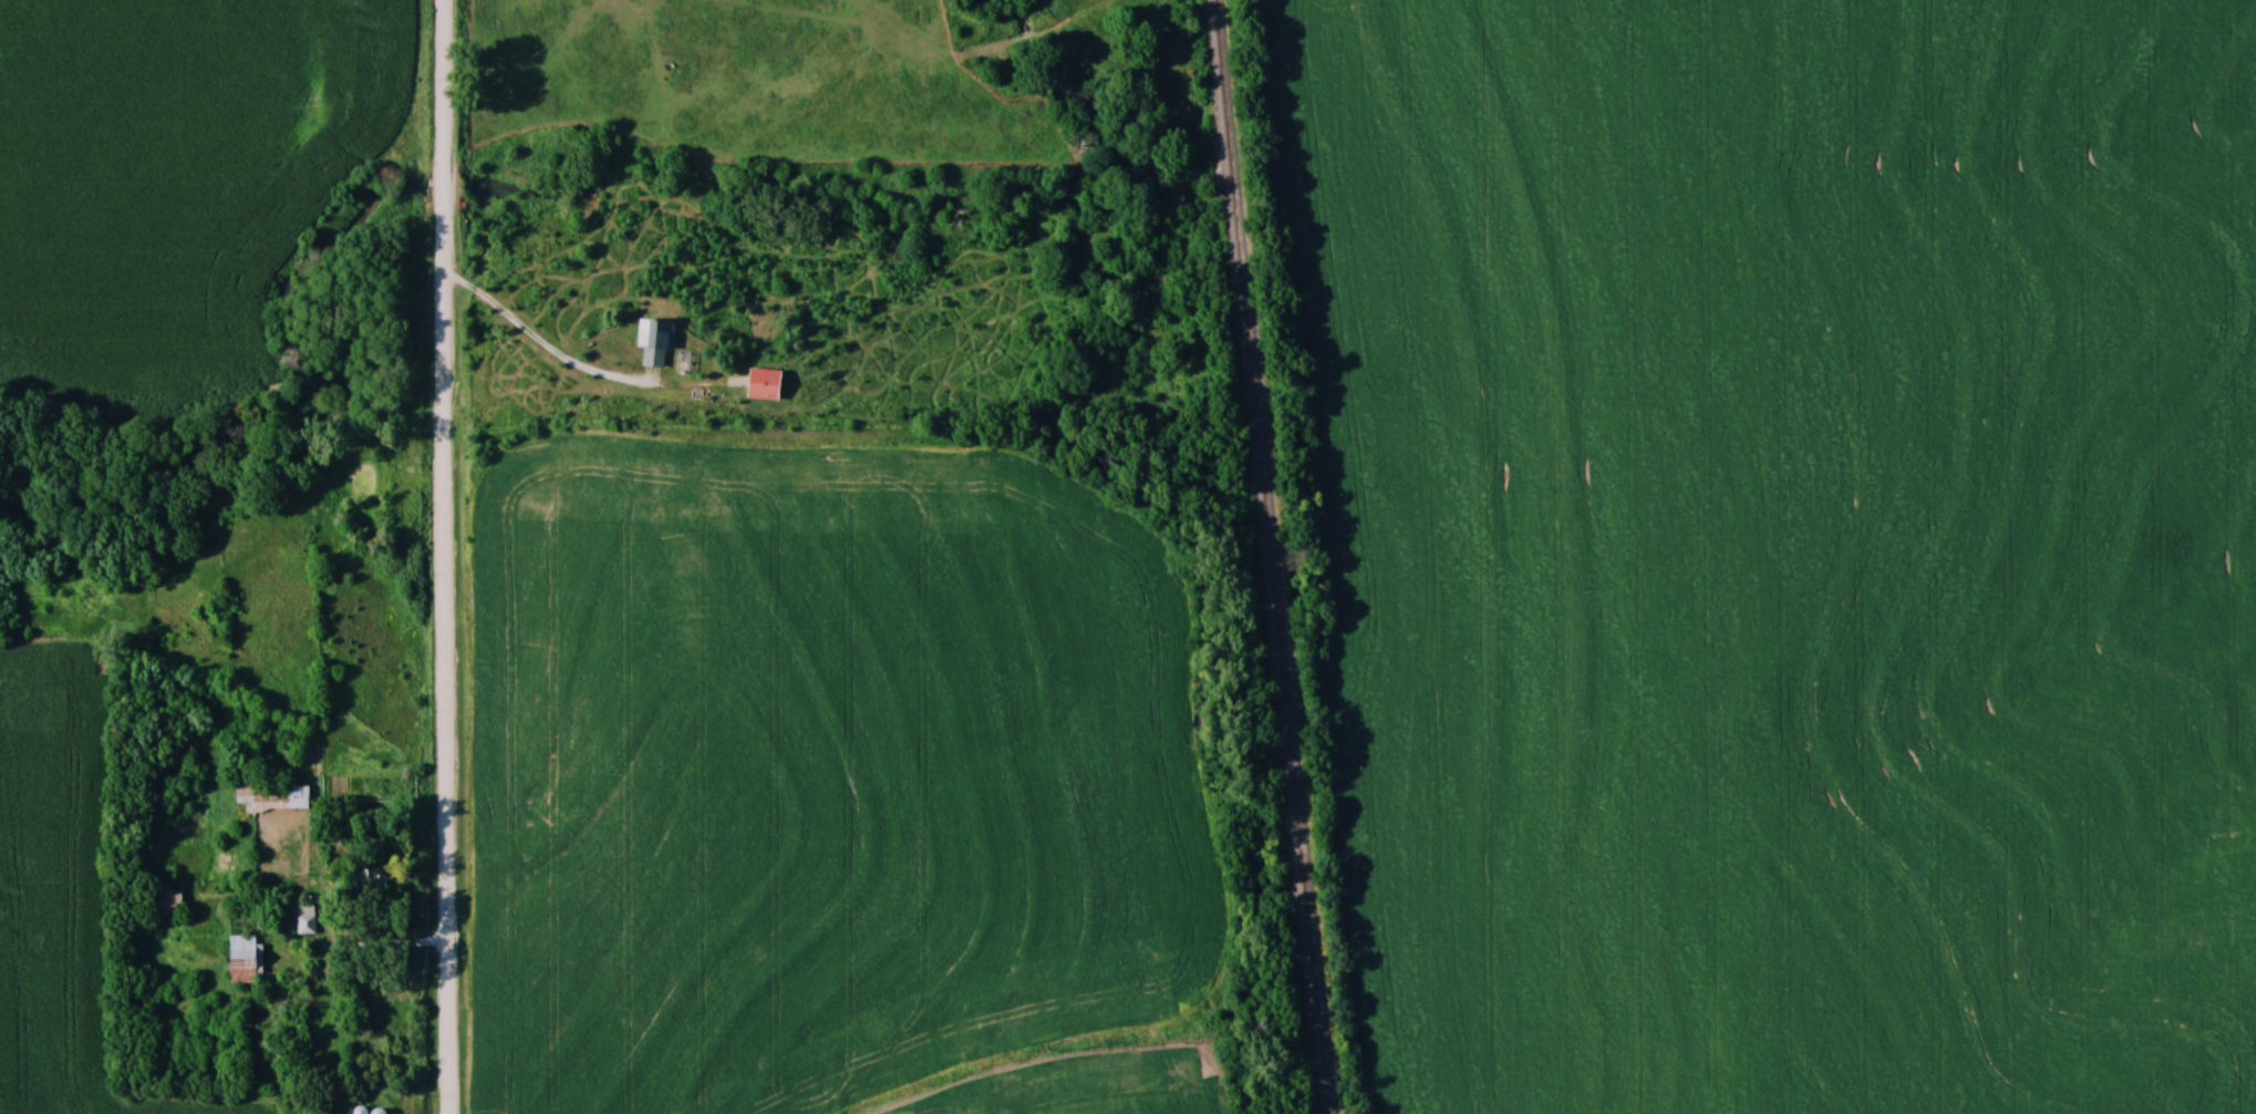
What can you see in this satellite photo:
building: (653, 342)
road: (541, 343)
building: (764, 381)
road: (448, 556)
railway: (1276, 557)
building: (272, 796)
building: (368, 878)
building: (304, 918)
road: (361, 940)
building: (242, 959)

